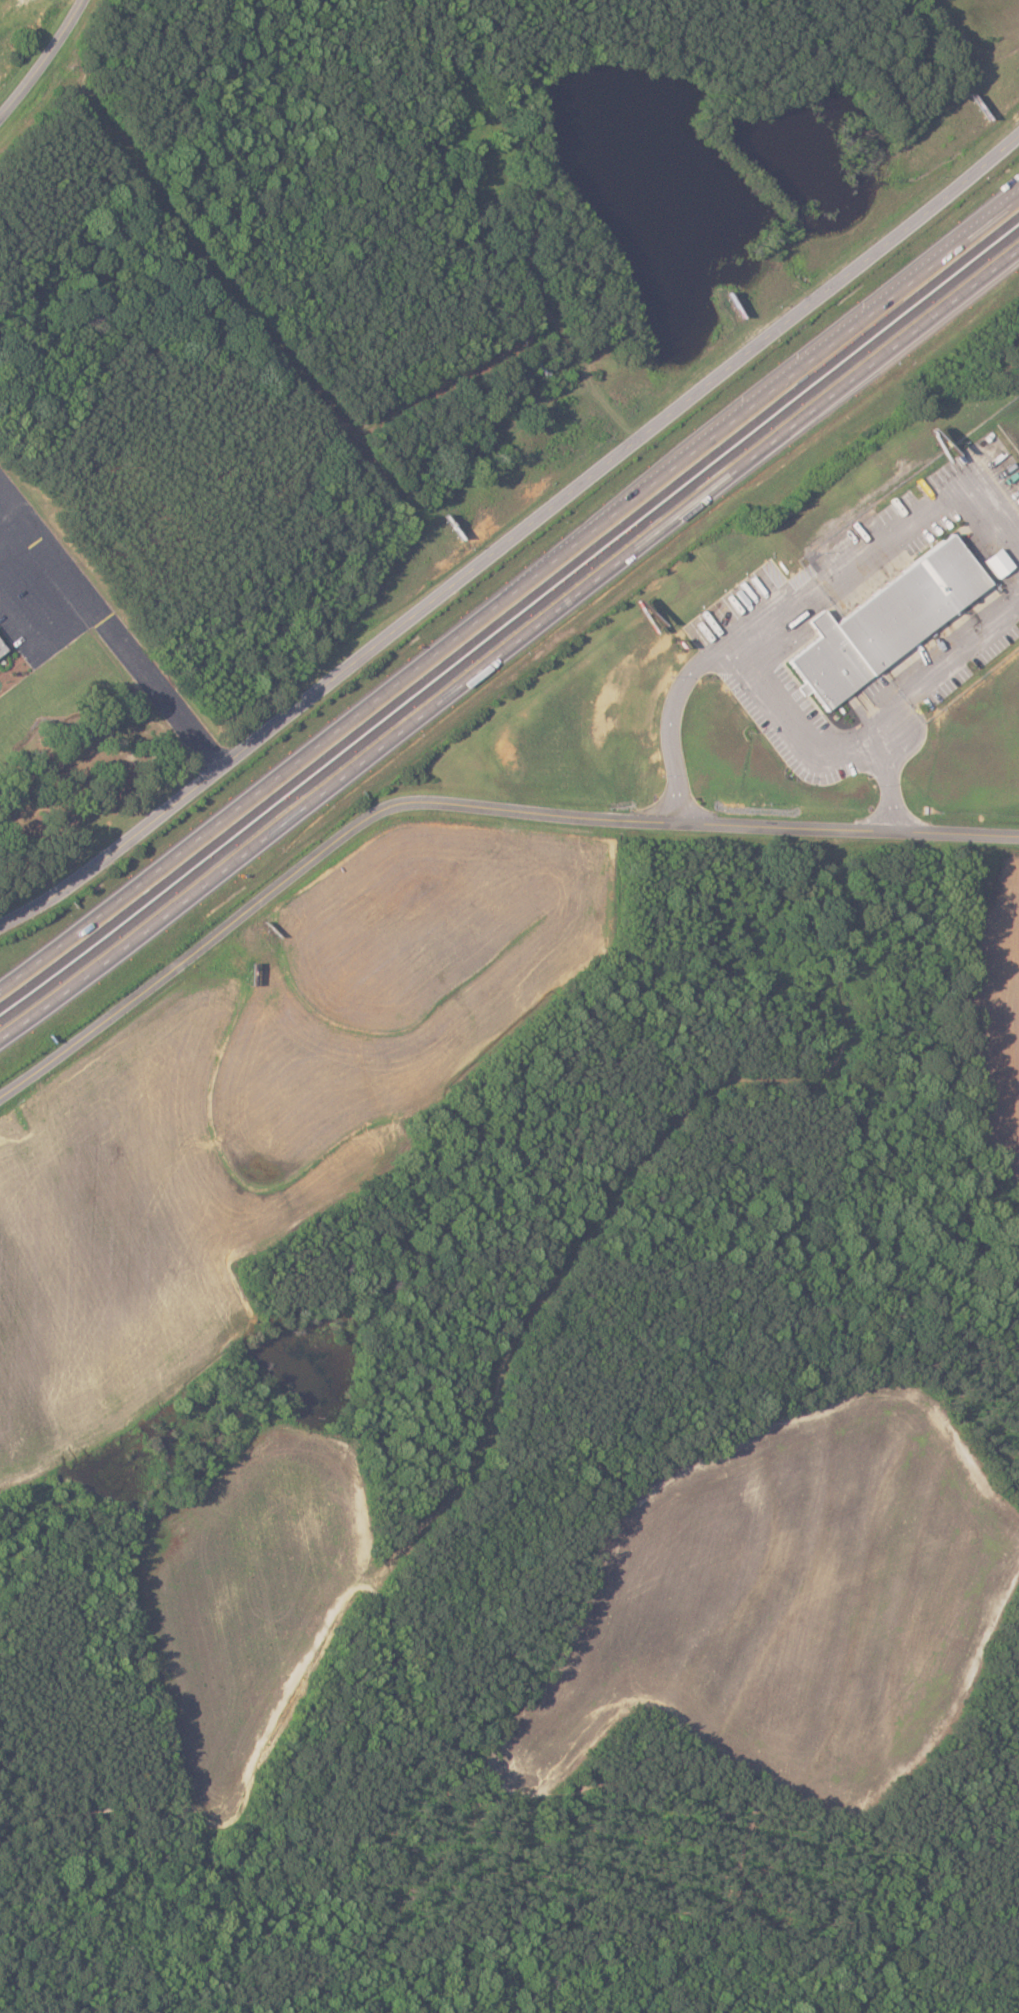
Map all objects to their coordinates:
road: (46, 63)
road: (967, 498)
road: (513, 541)
building: (993, 563)
road: (820, 587)
road: (511, 601)
building: (884, 620)
road: (115, 644)
road: (509, 646)
building: (4, 649)
road: (944, 667)
road: (673, 714)
road: (797, 725)
road: (891, 786)
road: (888, 829)
road: (344, 846)

